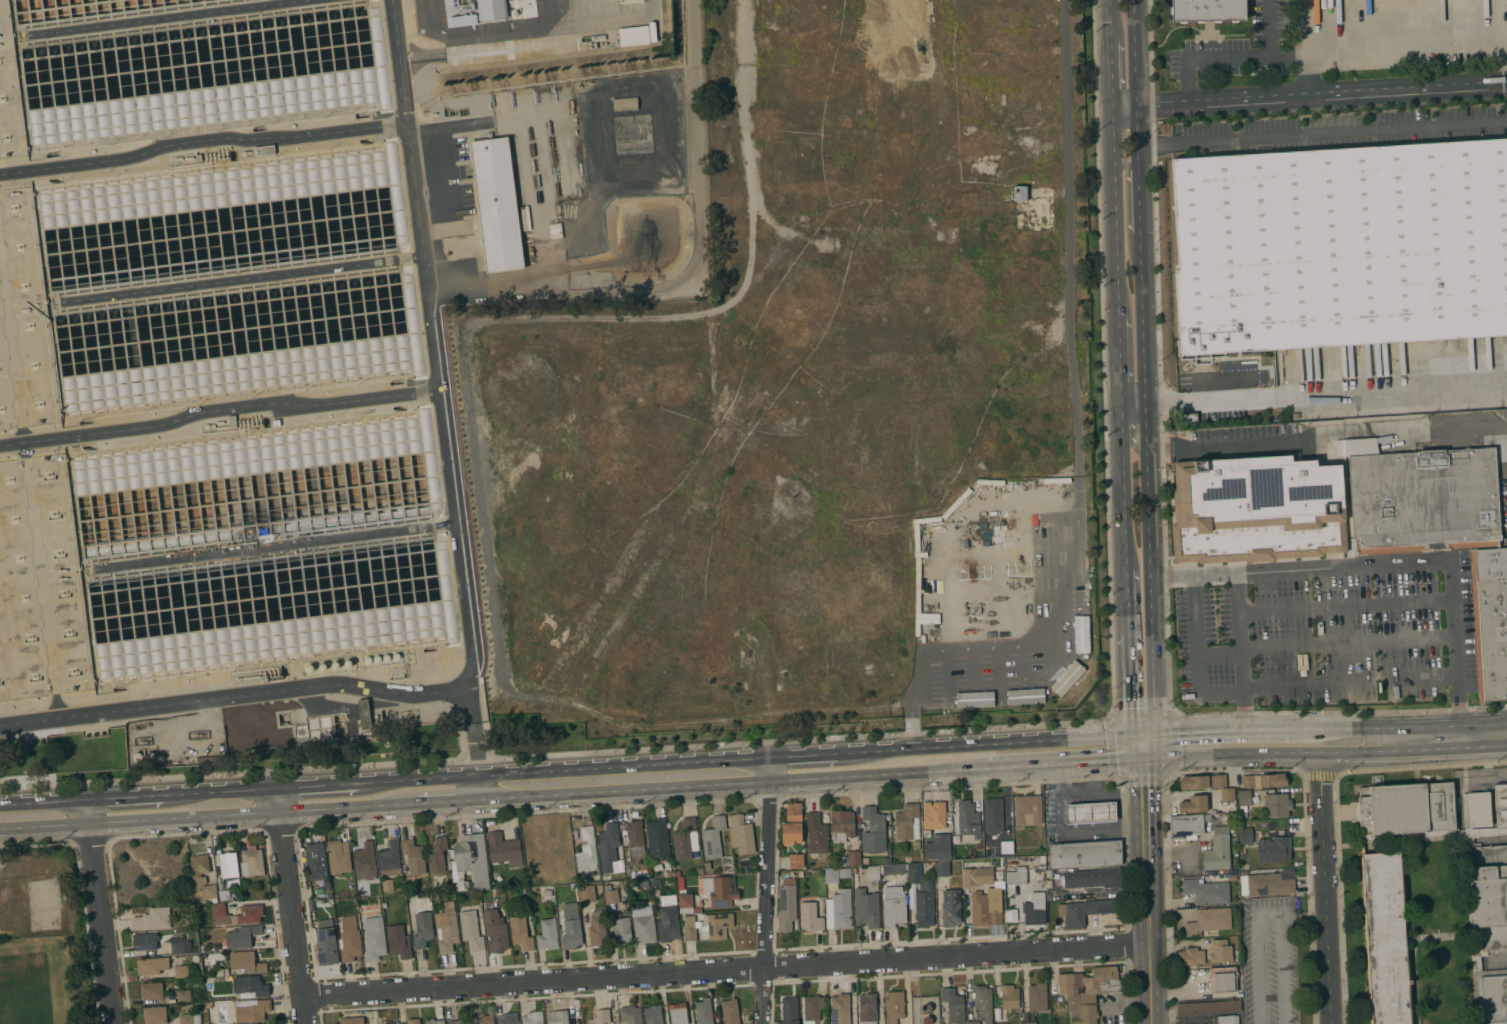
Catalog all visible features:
building: (1208, 10)
building: (478, 11)
road: (1110, 22)
building: (637, 36)
road: (1389, 47)
road: (1505, 49)
road: (1232, 57)
road: (1112, 74)
road: (1305, 75)
road: (1309, 95)
building: (625, 104)
road: (1322, 131)
road: (203, 141)
building: (264, 150)
road: (522, 151)
road: (1126, 169)
building: (1019, 192)
building: (497, 204)
road: (1115, 211)
building: (1341, 246)
road: (1068, 259)
road: (692, 270)
wastewater plant: (295, 338)
road: (1120, 357)
road: (1144, 366)
road: (437, 399)
road: (1313, 403)
road: (217, 408)
road: (1307, 439)
building: (1423, 500)
building: (1256, 509)
building: (994, 511)
road: (1125, 514)
road: (1074, 537)
road: (1388, 565)
road: (1059, 612)
building: (1490, 620)
building: (1080, 634)
road: (975, 647)
road: (1240, 652)
road: (1218, 653)
road: (1196, 654)
road: (915, 673)
building: (1066, 678)
road: (1130, 685)
road: (235, 695)
building: (1024, 696)
building: (364, 714)
road: (910, 723)
road: (1344, 728)
road: (1224, 731)
traffic signals: (1154, 734)
road: (1143, 735)
traffic signals: (1132, 736)
road: (1449, 737)
road: (984, 744)
road: (1149, 747)
road: (1138, 748)
road: (1357, 752)
road: (804, 755)
road: (1231, 755)
traffic signals: (1144, 760)
road: (1064, 765)
road: (564, 769)
road: (1236, 770)
road: (877, 777)
road: (1305, 777)
road: (1320, 777)
road: (1335, 777)
road: (1096, 778)
building: (1219, 780)
building: (1263, 780)
building: (1194, 781)
road: (320, 785)
road: (627, 790)
road: (221, 791)
road: (1101, 792)
building: (1227, 794)
road: (126, 796)
building: (1244, 798)
road: (281, 799)
road: (45, 801)
road: (451, 801)
building: (1193, 804)
building: (1277, 804)
building: (1500, 804)
road: (350, 806)
road: (777, 806)
building: (1242, 808)
building: (1406, 808)
building: (1027, 809)
building: (1476, 809)
road: (90, 810)
building: (1090, 812)
road: (236, 814)
building: (934, 814)
building: (967, 814)
building: (993, 814)
road: (1335, 814)
building: (1243, 815)
building: (1223, 818)
road: (140, 820)
building: (908, 822)
building: (792, 823)
building: (1188, 824)
building: (1243, 824)
building: (842, 825)
road: (47, 826)
road: (1, 829)
building: (1232, 829)
building: (873, 830)
road: (1072, 832)
building: (816, 833)
building: (926, 833)
building: (633, 834)
building: (742, 834)
building: (1246, 835)
building: (657, 837)
building: (713, 837)
building: (685, 840)
building: (916, 845)
building: (608, 846)
building: (938, 846)
building: (978, 846)
building: (1006, 847)
building: (504, 849)
building: (1274, 849)
building: (1217, 850)
building: (888, 851)
building: (586, 852)
road: (1146, 852)
building: (437, 854)
building: (1084, 854)
building: (338, 856)
building: (413, 856)
building: (853, 858)
building: (389, 860)
building: (796, 860)
building: (886, 860)
building: (251, 861)
building: (316, 861)
building: (364, 861)
building: (469, 861)
building: (865, 861)
building: (228, 864)
building: (707, 866)
building: (931, 867)
building: (895, 868)
building: (942, 868)
building: (699, 870)
building: (677, 872)
building: (844, 872)
building: (872, 872)
building: (668, 873)
building: (800, 873)
building: (831, 875)
building: (1015, 876)
building: (202, 877)
building: (977, 877)
building: (1087, 877)
building: (1232, 877)
building: (656, 882)
building: (681, 882)
building: (643, 883)
building: (1269, 884)
building: (387, 885)
building: (607, 887)
road: (1324, 889)
building: (718, 890)
road: (765, 890)
building: (1206, 891)
building: (499, 892)
building: (545, 892)
building: (586, 892)
building: (224, 895)
building: (611, 896)
building: (1491, 896)
building: (922, 897)
building: (311, 903)
building: (685, 903)
building: (786, 904)
building: (1472, 904)
building: (987, 905)
building: (893, 906)
building: (950, 907)
building: (866, 908)
building: (1035, 908)
building: (697, 909)
building: (839, 909)
park: (46, 910)
building: (1086, 910)
building: (251, 914)
road: (296, 917)
building: (810, 917)
building: (668, 918)
building: (152, 919)
building: (1208, 921)
road: (104, 923)
building: (643, 924)
building: (717, 925)
building: (571, 926)
building: (446, 928)
building: (689, 928)
building: (423, 929)
building: (597, 929)
road: (1124, 929)
building: (471, 930)
building: (621, 930)
building: (496, 931)
building: (521, 931)
road: (1254, 933)
building: (547, 934)
building: (242, 937)
building: (374, 938)
building: (1385, 938)
park: (41, 939)
building: (349, 939)
building: (144, 941)
building: (398, 941)
building: (180, 944)
road: (1124, 944)
building: (326, 945)
building: (214, 946)
building: (1220, 951)
building: (196, 957)
building: (1190, 957)
parking lot: (1275, 959)
building: (244, 963)
building: (152, 965)
road: (726, 969)
road: (1282, 969)
building: (181, 971)
building: (222, 972)
road: (928, 973)
building: (1222, 980)
road: (1149, 984)
park: (28, 985)
building: (249, 986)
building: (151, 990)
building: (1087, 991)
road: (1127, 991)
building: (184, 995)
building: (1494, 995)
building: (1009, 996)
building: (1037, 996)
building: (983, 1002)
building: (209, 1005)
building: (953, 1005)
building: (894, 1006)
building: (1204, 1007)
building: (812, 1008)
building: (926, 1008)
building: (251, 1009)
building: (839, 1009)
building: (867, 1009)
building: (789, 1010)
building: (729, 1011)
building: (703, 1012)
building: (678, 1013)
building: (630, 1014)
building: (653, 1014)
building: (154, 1015)
building: (557, 1017)
building: (600, 1017)
building: (507, 1018)
building: (532, 1018)
building: (189, 1019)
building: (486, 1019)
building: (1225, 1019)
building: (351, 1020)
building: (927, 1020)
building: (434, 1021)
building: (459, 1021)
building: (407, 1022)
building: (973, 1022)
building: (1030, 1022)
building: (418, 1023)
building: (1000, 1023)

